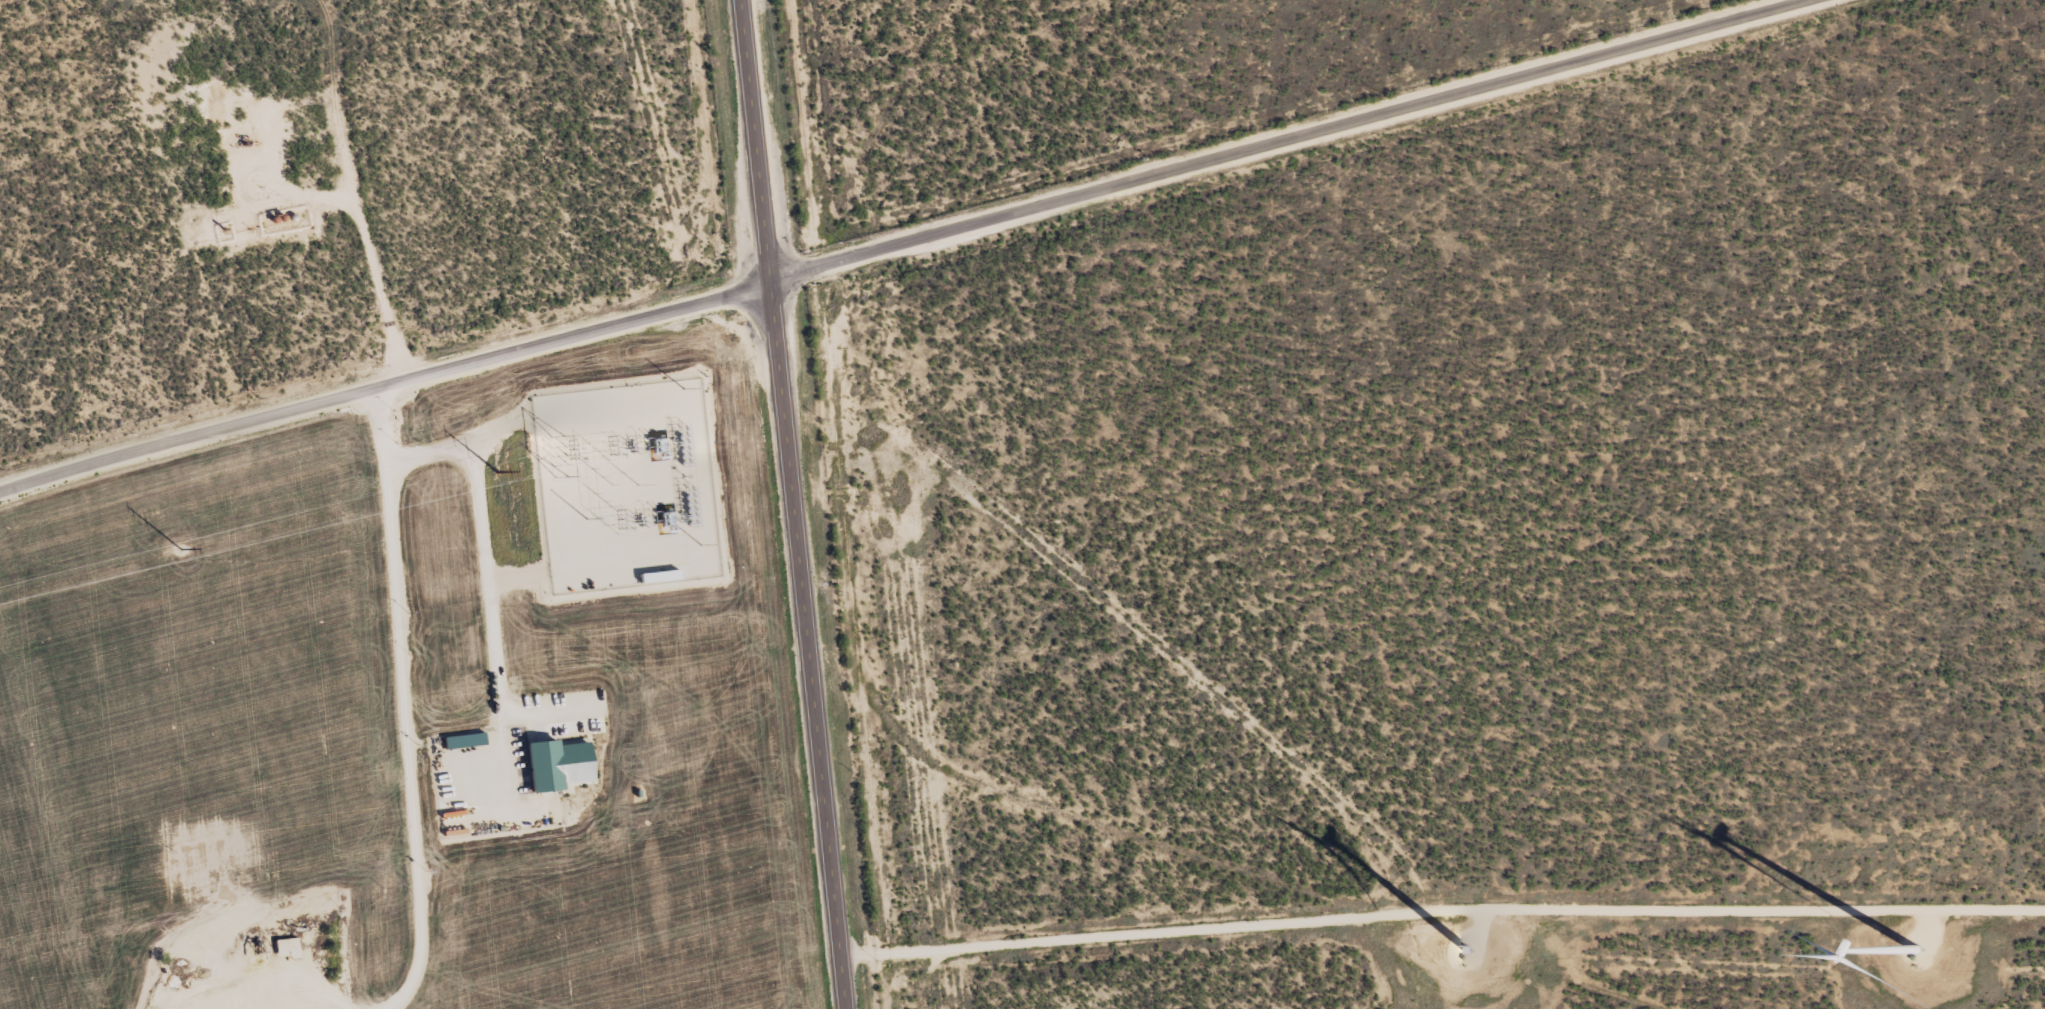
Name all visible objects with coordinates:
road: (907, 123)
road: (1289, 138)
road: (384, 385)
power tower: (495, 469)
power substation: (621, 490)
road: (794, 504)
power tower: (176, 549)
road: (488, 590)
road: (400, 703)
building: (459, 746)
building: (554, 764)
building: (285, 947)
wind turbine: (1913, 949)
wind turbine: (1464, 953)

